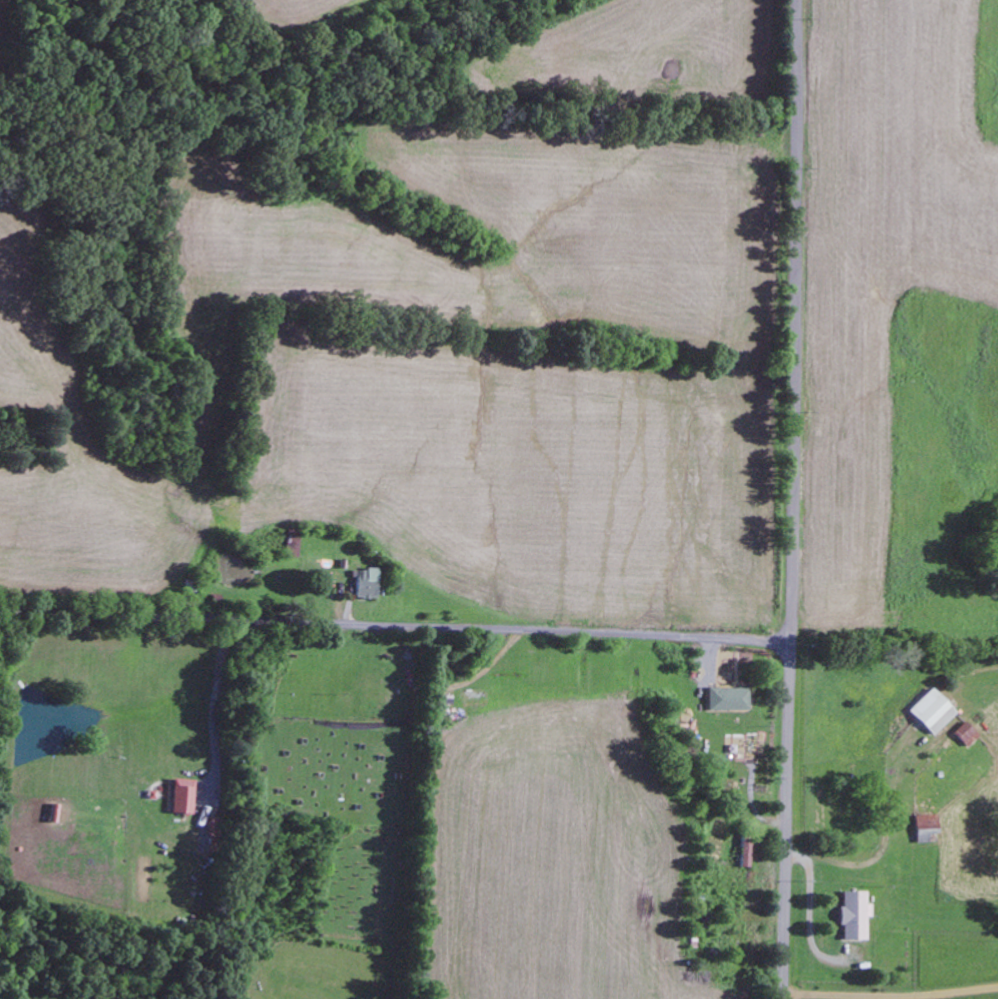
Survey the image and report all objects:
road: (792, 320)
building: (363, 584)
road: (394, 623)
building: (726, 699)
building: (931, 712)
building: (964, 735)
road: (392, 776)
building: (180, 797)
road: (784, 819)
building: (925, 829)
building: (853, 916)

